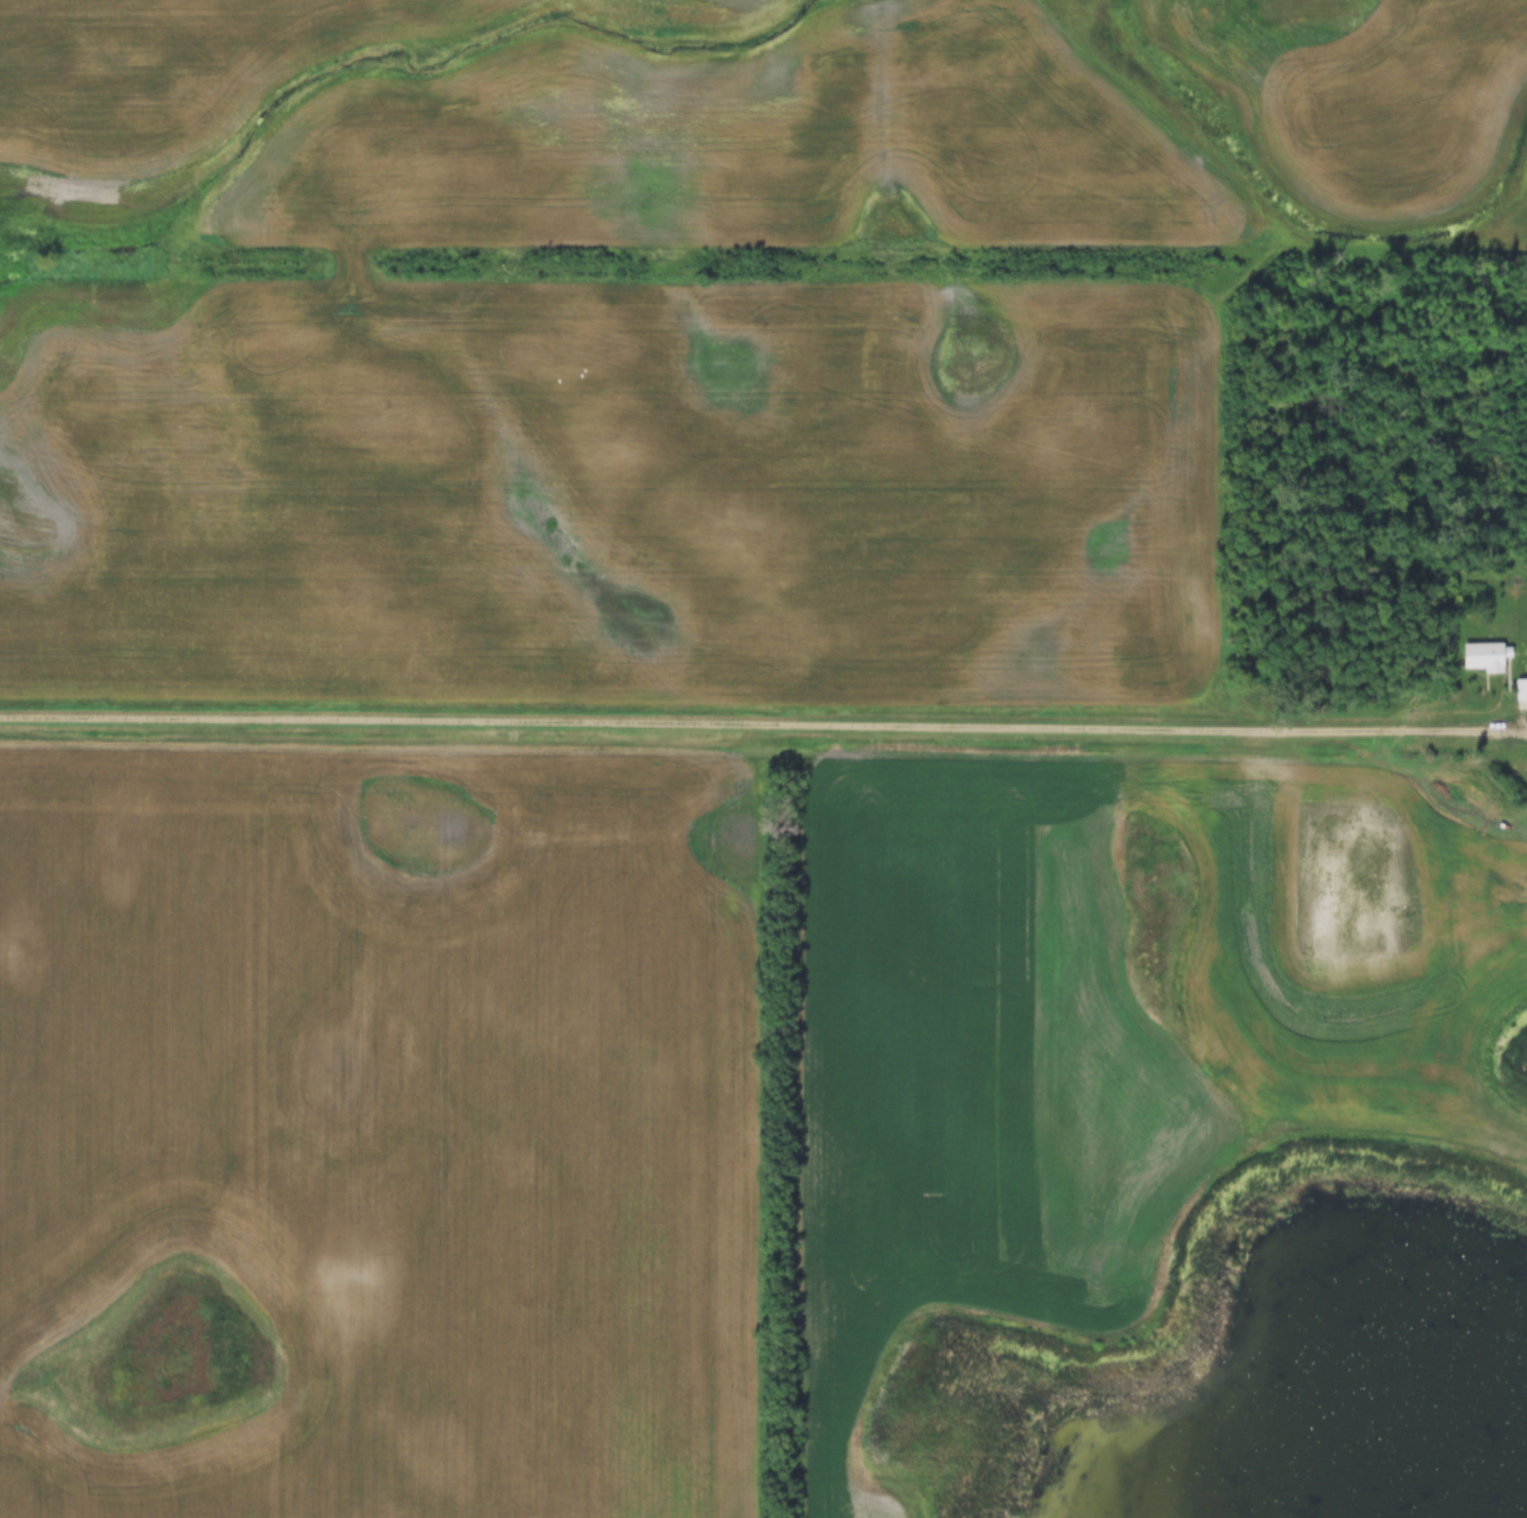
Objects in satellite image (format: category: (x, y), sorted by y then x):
building: (1486, 657)
building: (1521, 690)
road: (763, 728)

